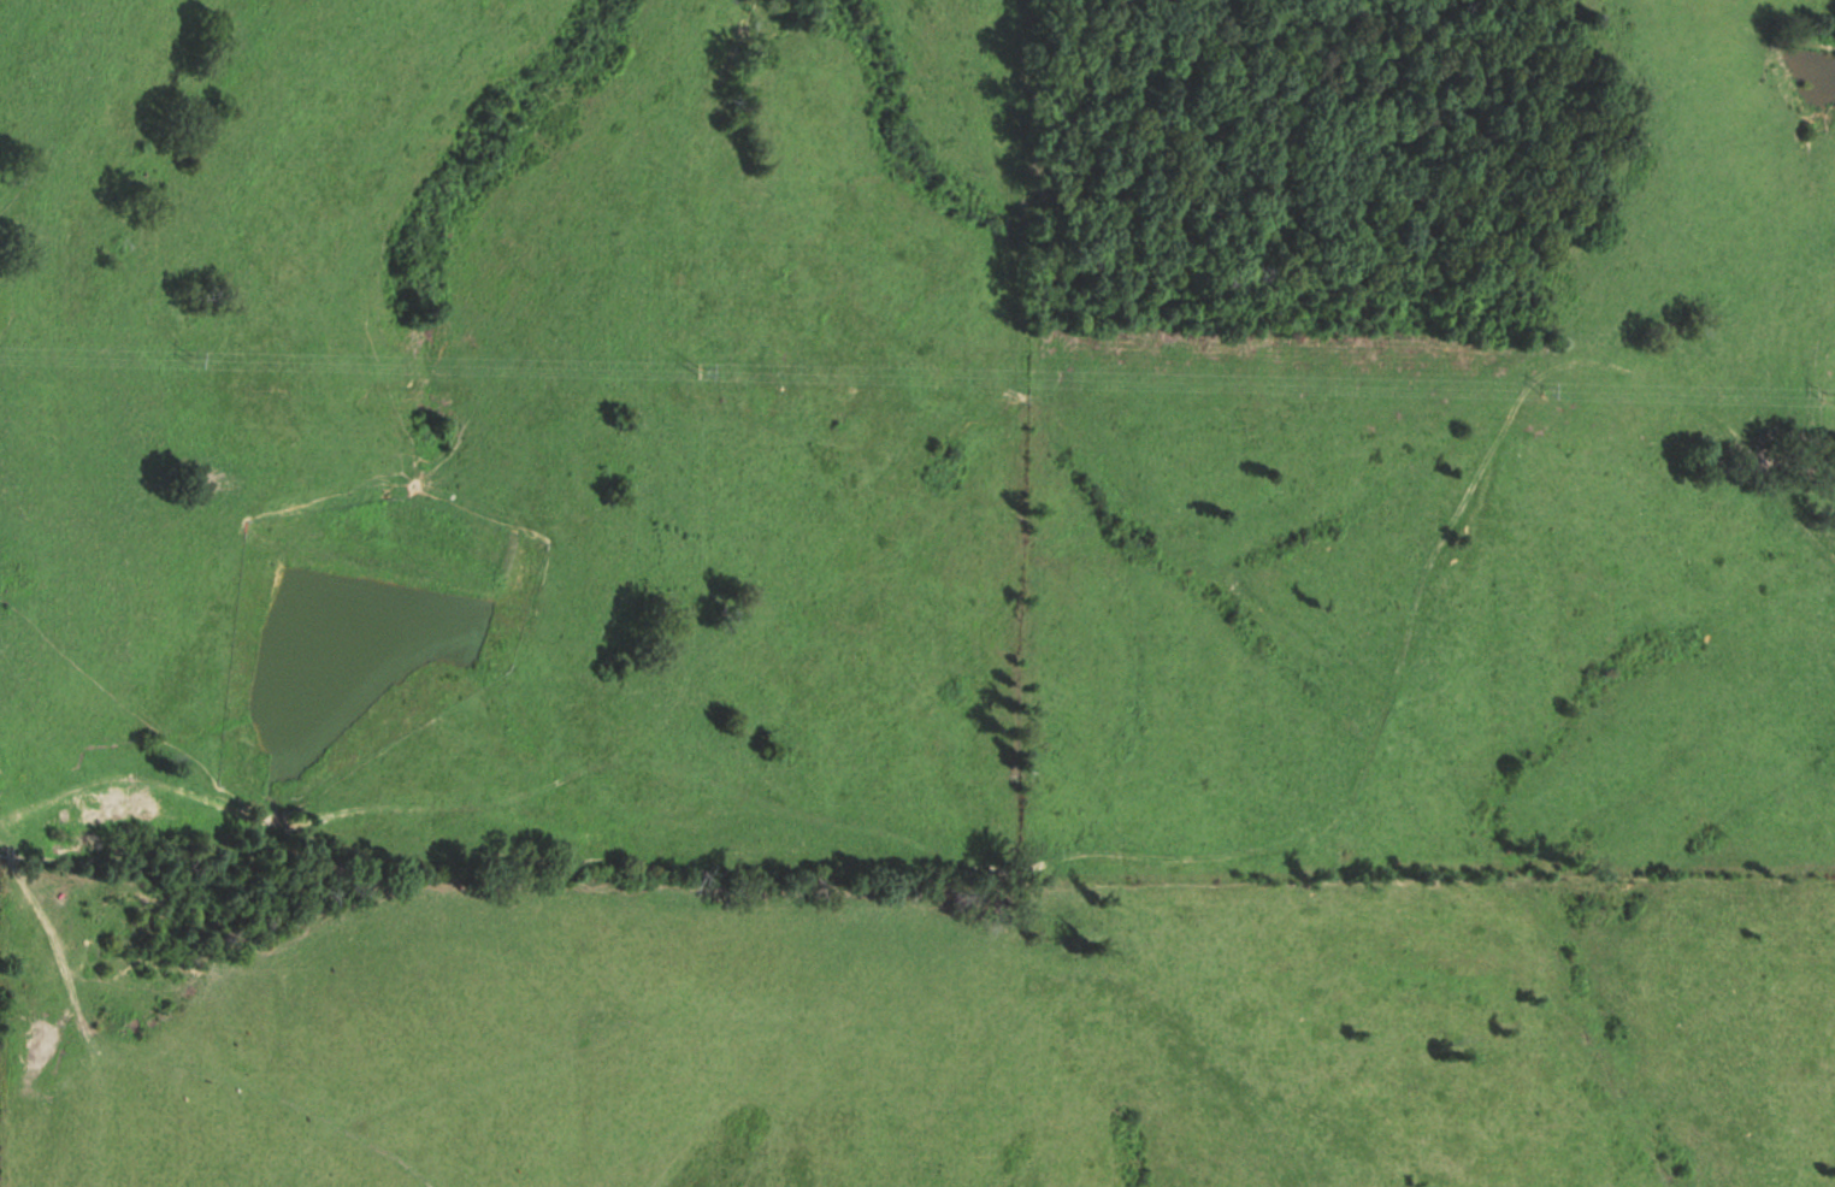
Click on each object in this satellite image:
road: (135, 892)

